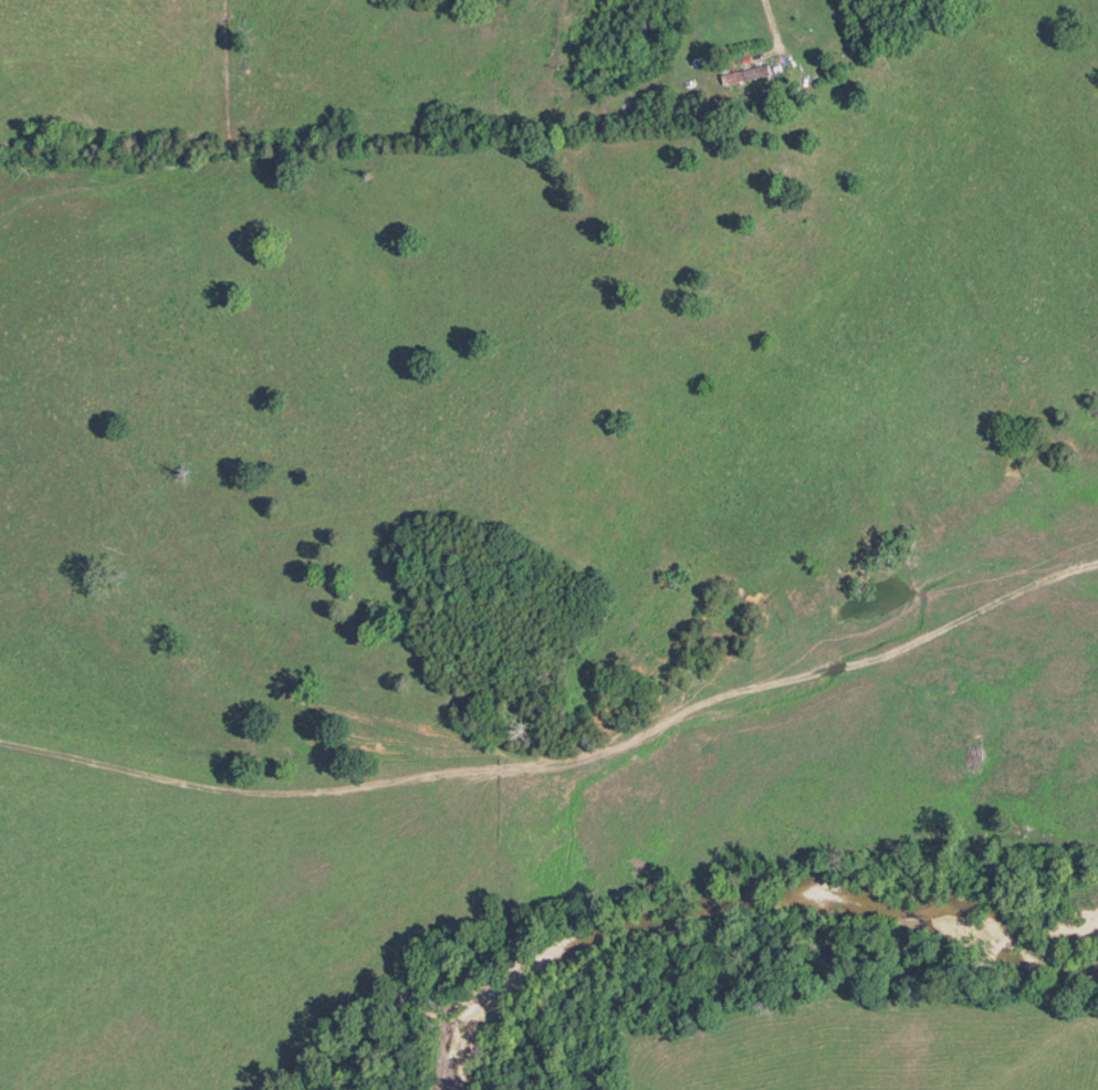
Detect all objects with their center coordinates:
road: (1084, 535)

